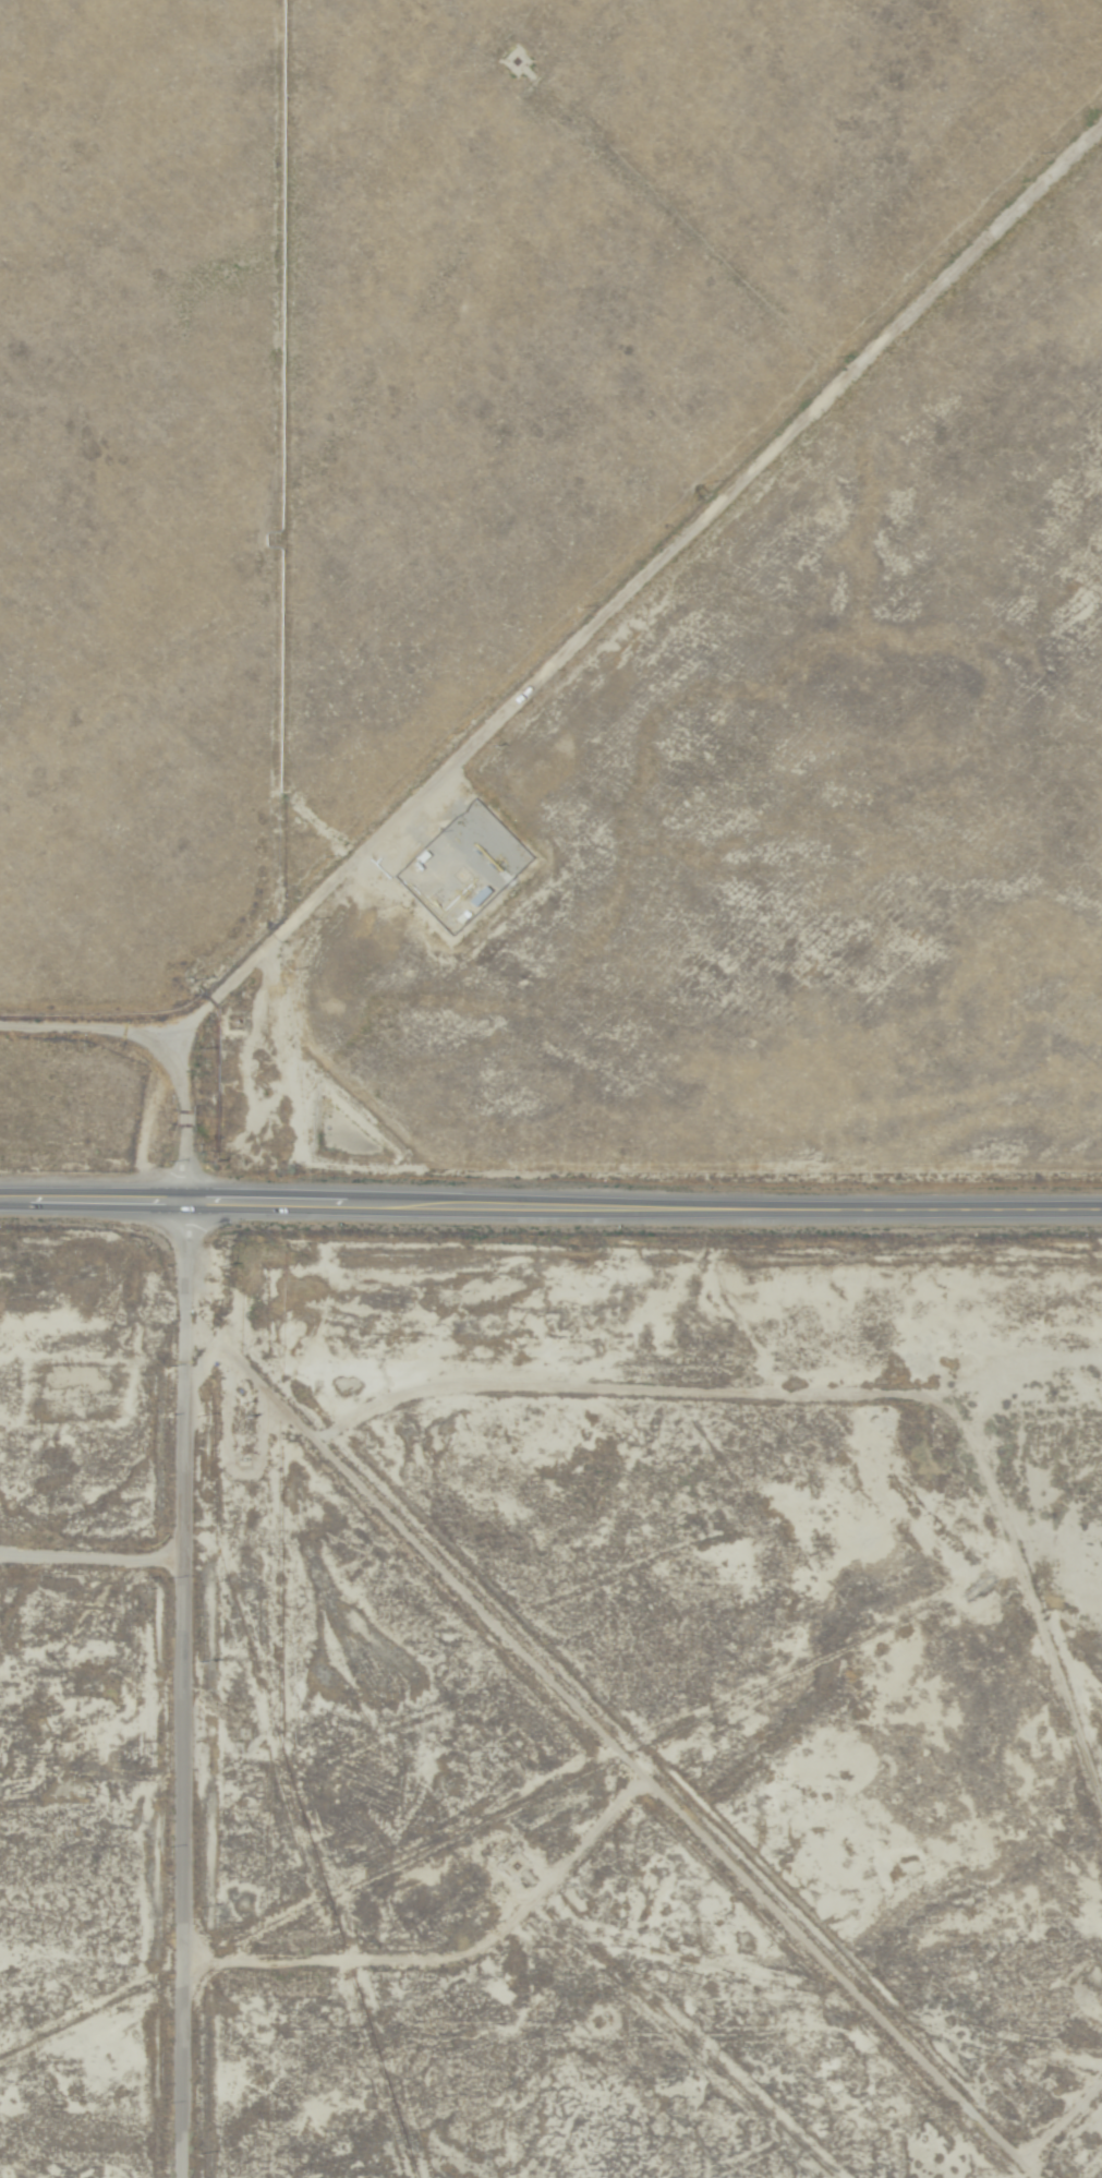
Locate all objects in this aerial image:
road: (229, 975)
road: (85, 1032)
road: (550, 1201)
road: (87, 1554)
road: (625, 1774)
road: (443, 1963)
road: (1097, 2154)
road: (1094, 2168)

